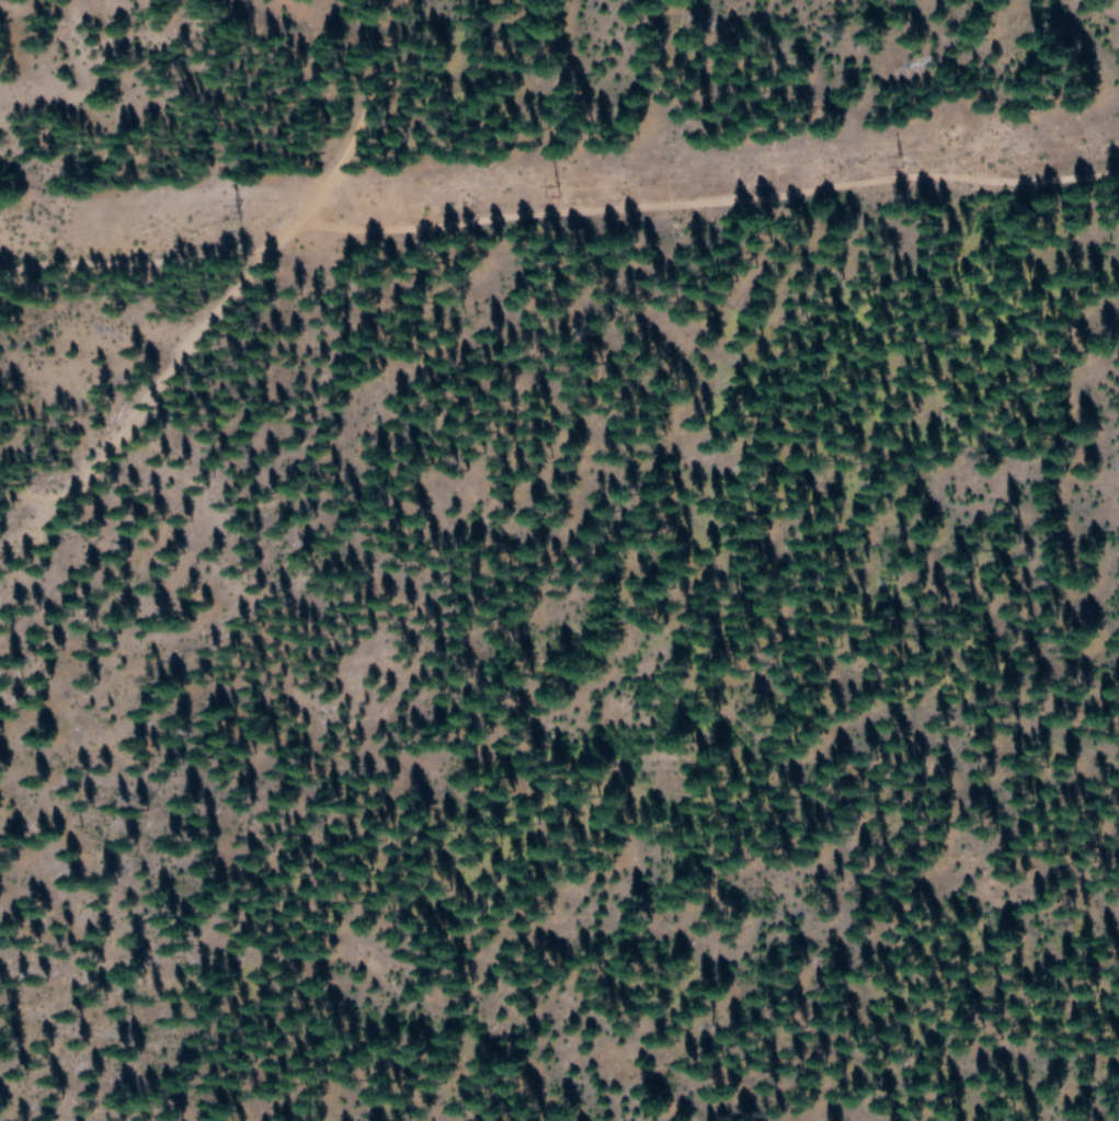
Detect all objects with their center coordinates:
power tower: (899, 163)
power tower: (240, 213)
road: (269, 325)

